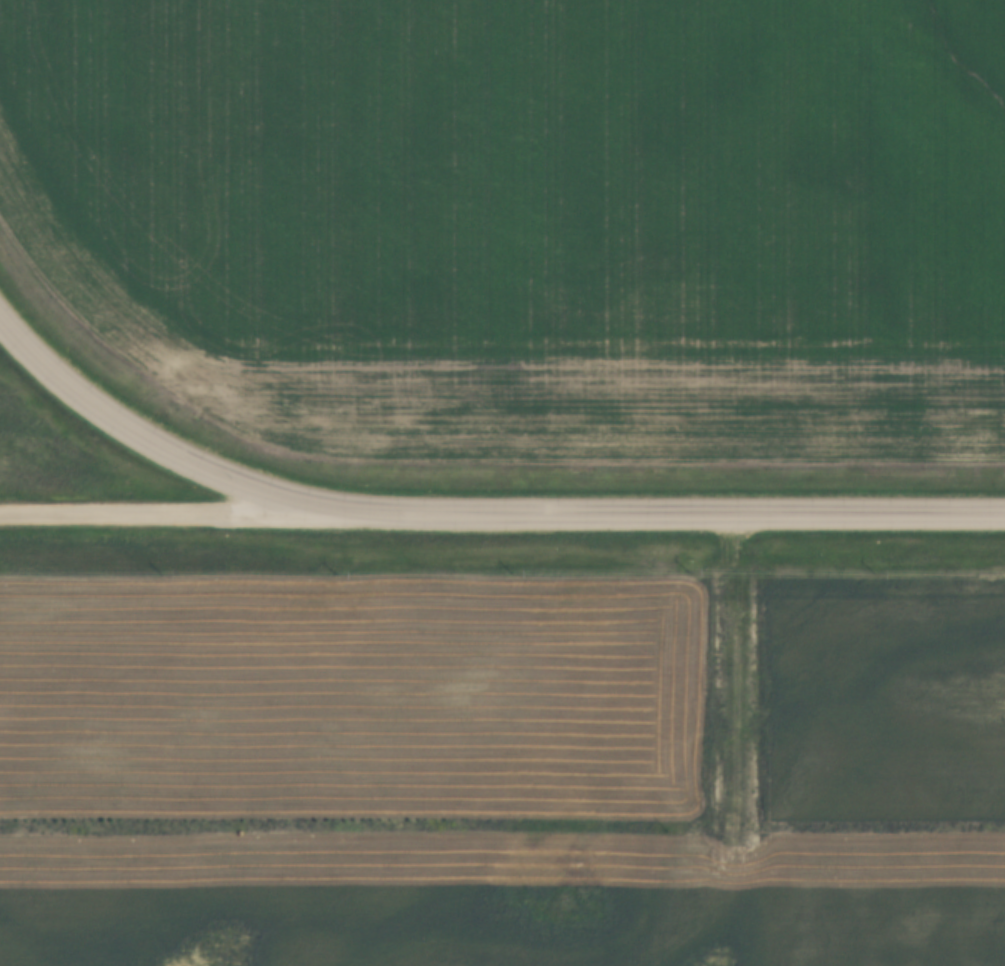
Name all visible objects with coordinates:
road: (143, 443)
road: (661, 517)
road: (158, 518)

